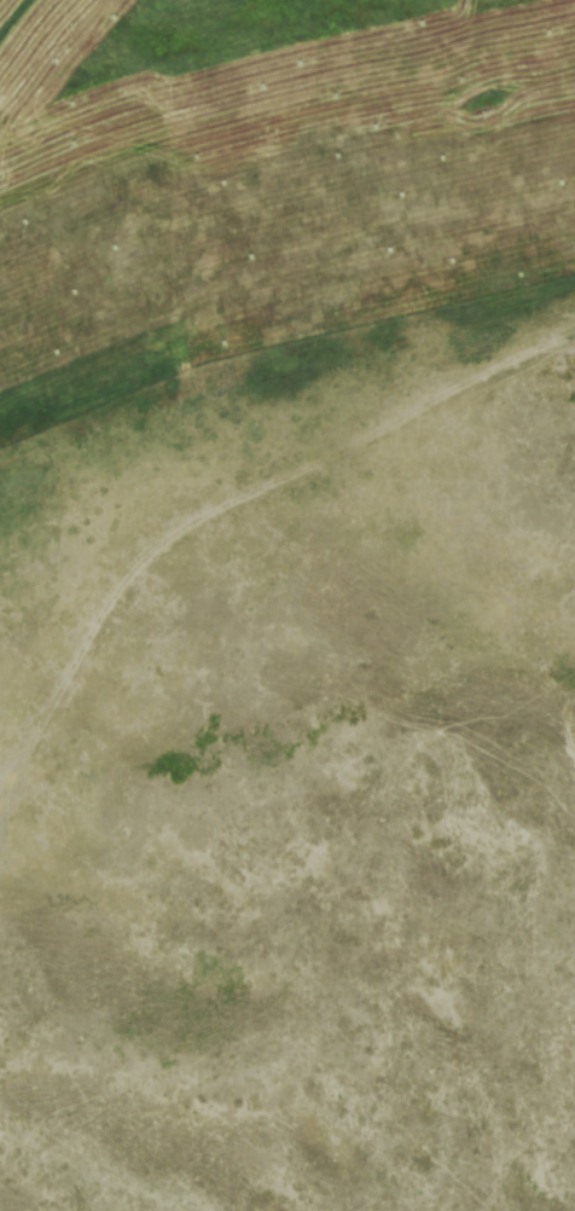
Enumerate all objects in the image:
road: (228, 504)

